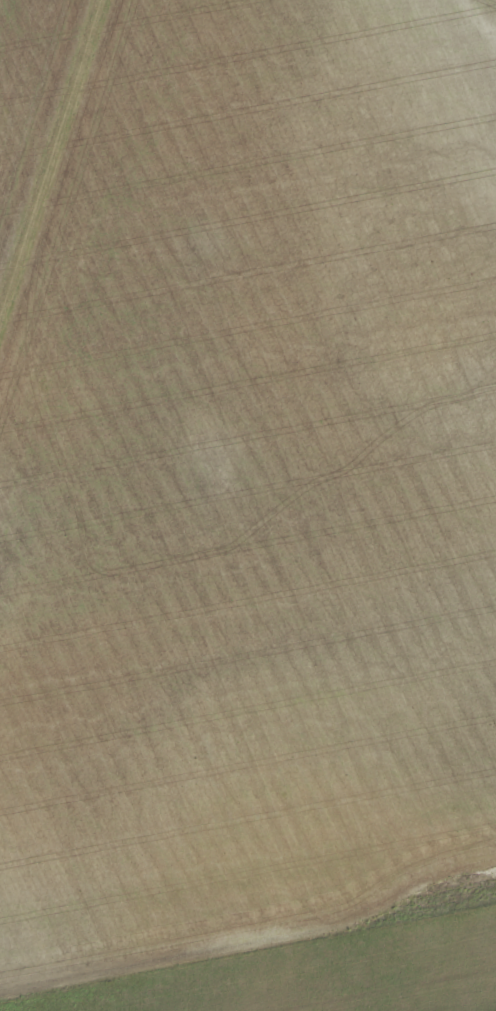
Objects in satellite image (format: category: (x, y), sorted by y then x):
road: (48, 157)

